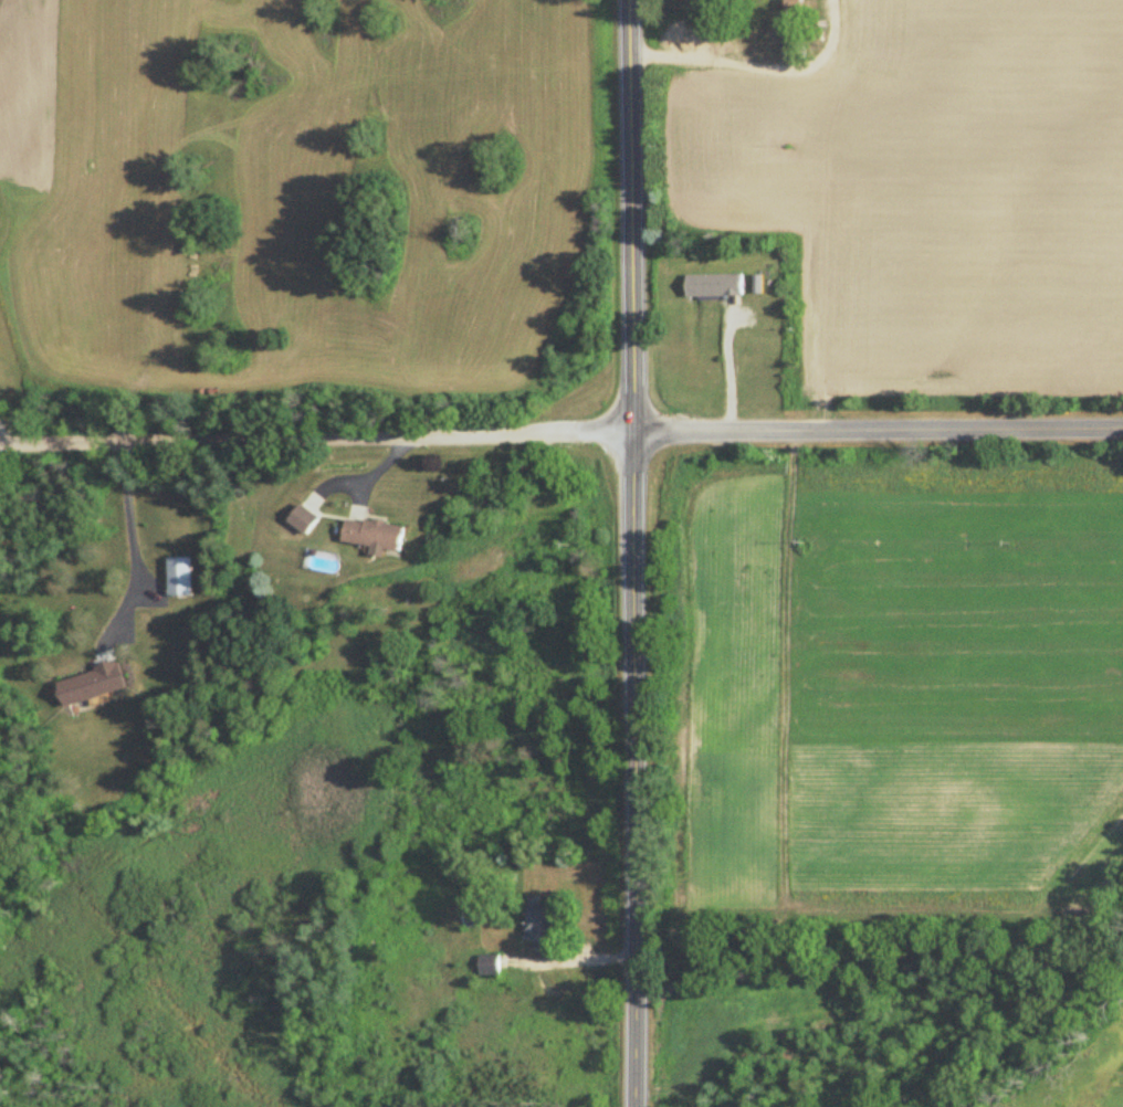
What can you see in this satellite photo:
road: (758, 68)
building: (715, 285)
road: (560, 431)
building: (304, 519)
building: (374, 534)
road: (132, 538)
road: (632, 552)
building: (180, 577)
building: (92, 684)
building: (537, 921)
building: (490, 963)

